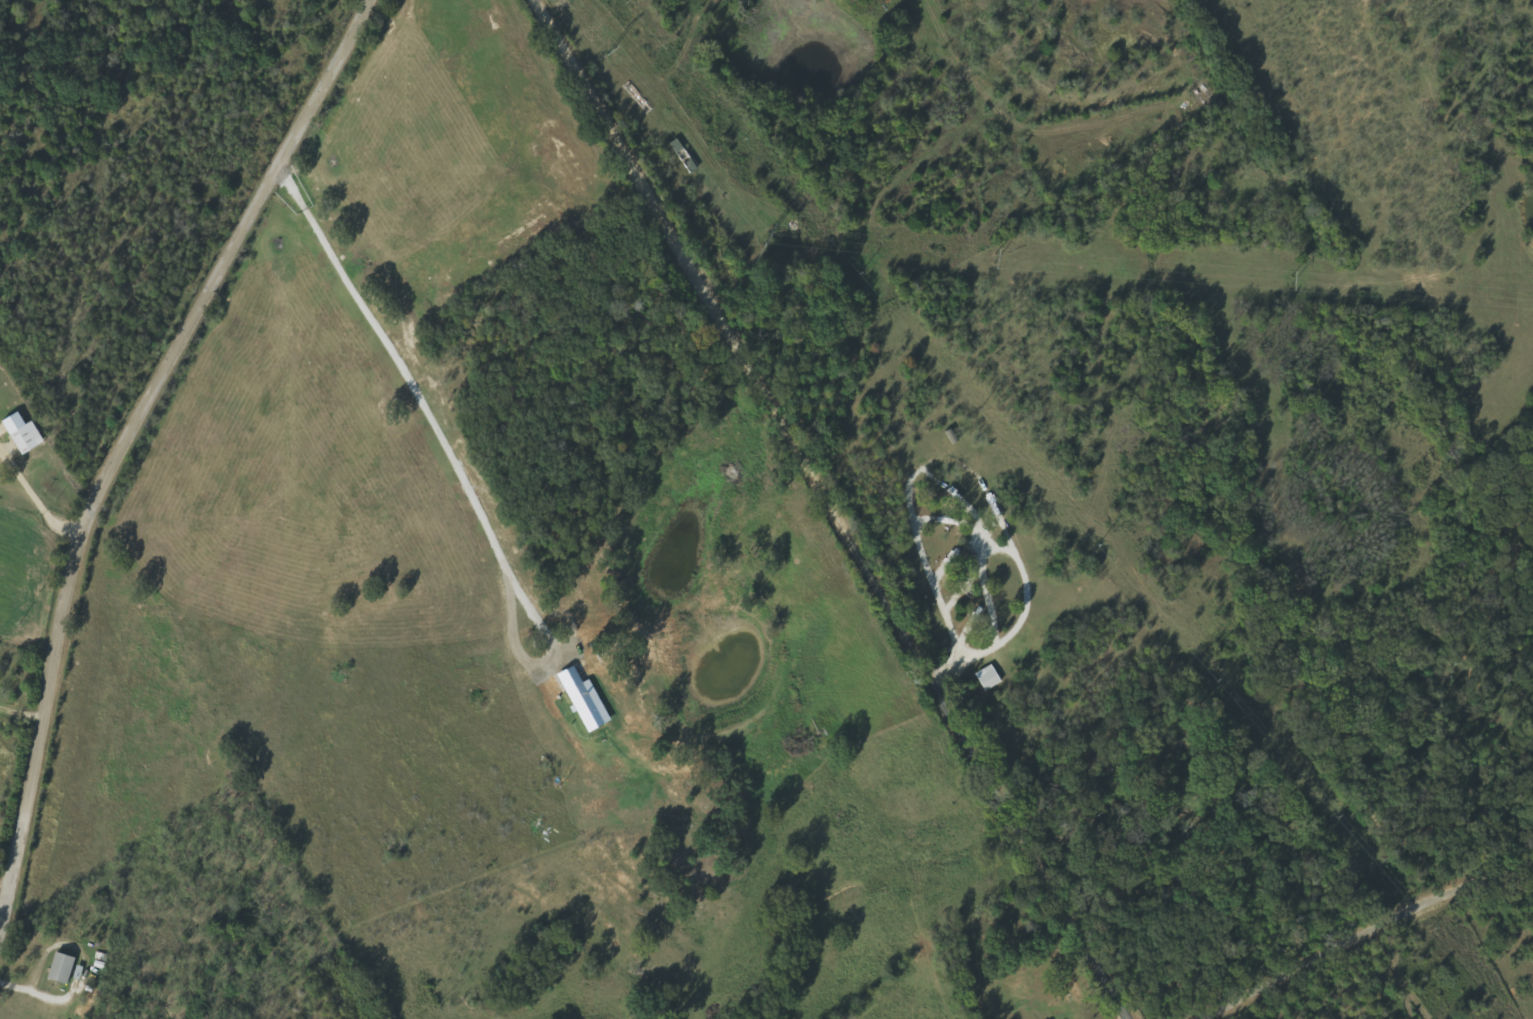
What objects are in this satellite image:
power tower: (612, 48)
power tower: (769, 234)
power tower: (995, 257)
power tower: (1293, 279)
building: (28, 438)
road: (127, 438)
road: (829, 508)
building: (990, 678)
building: (590, 706)
road: (1370, 935)
building: (63, 968)

